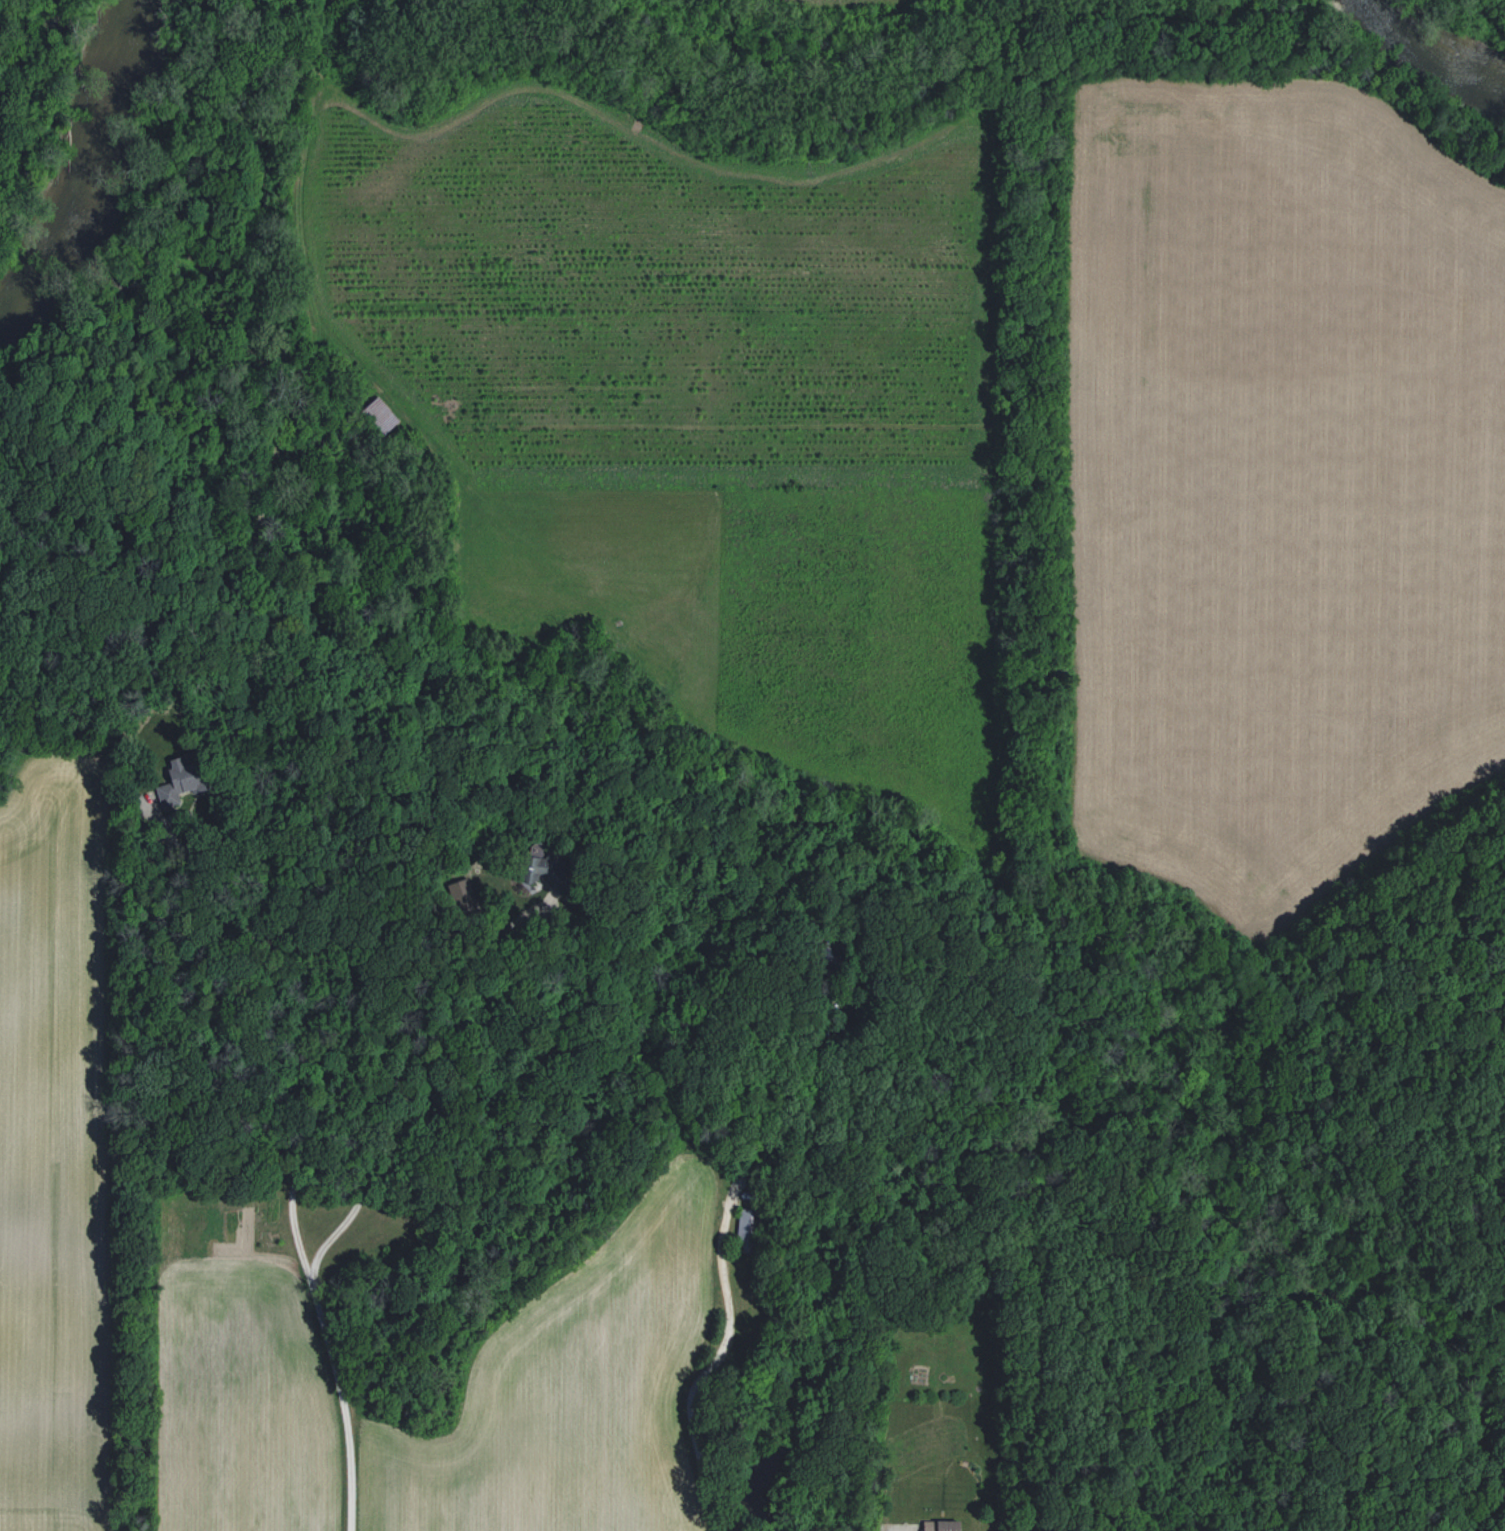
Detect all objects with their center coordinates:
river: (1426, 61)
river: (84, 161)
building: (179, 782)
road: (196, 882)
road: (805, 996)
road: (398, 1071)
road: (320, 1078)
road: (721, 1284)
building: (941, 1525)

